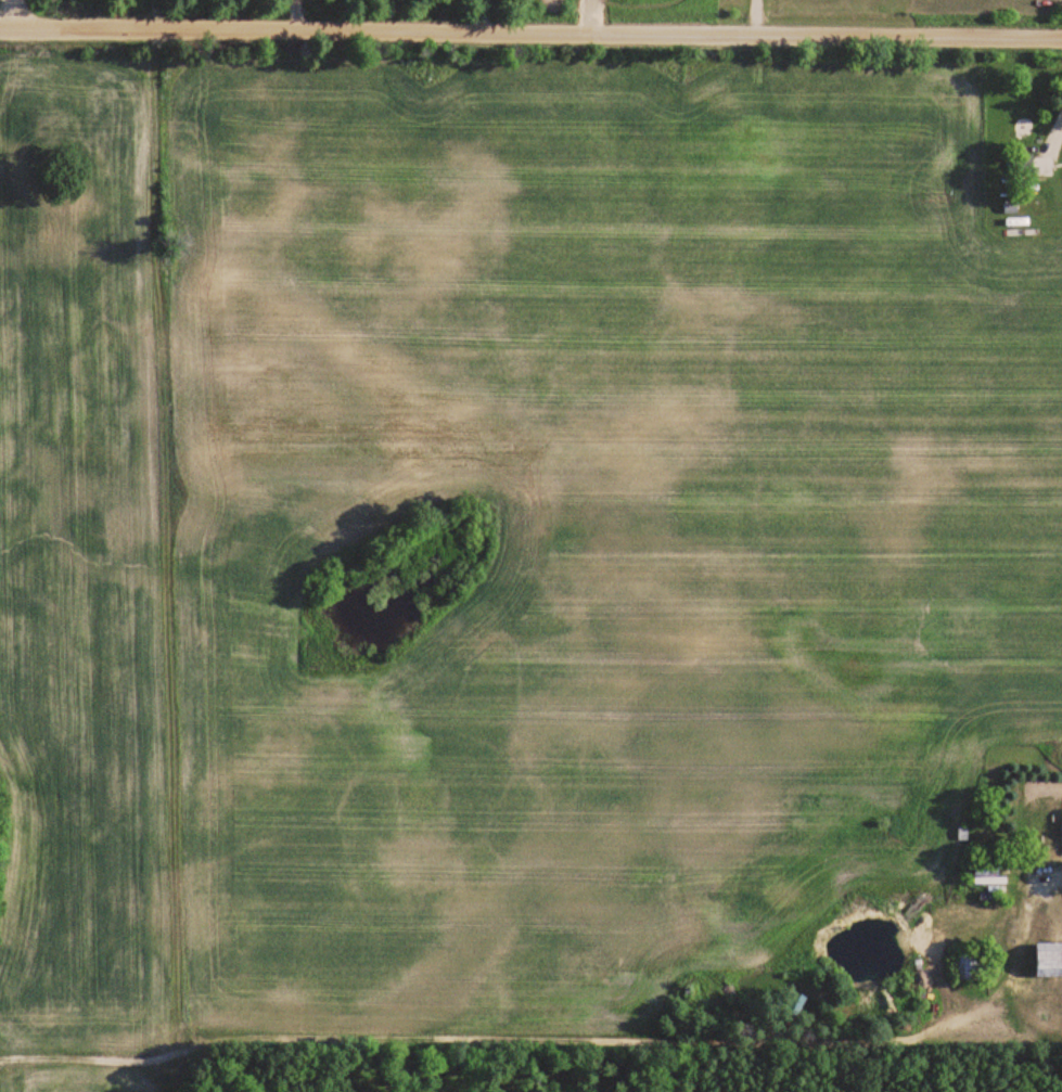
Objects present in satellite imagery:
road: (16, 15)
road: (530, 35)
building: (1022, 166)
building: (1061, 830)
building: (985, 872)
building: (1048, 961)
building: (967, 967)

